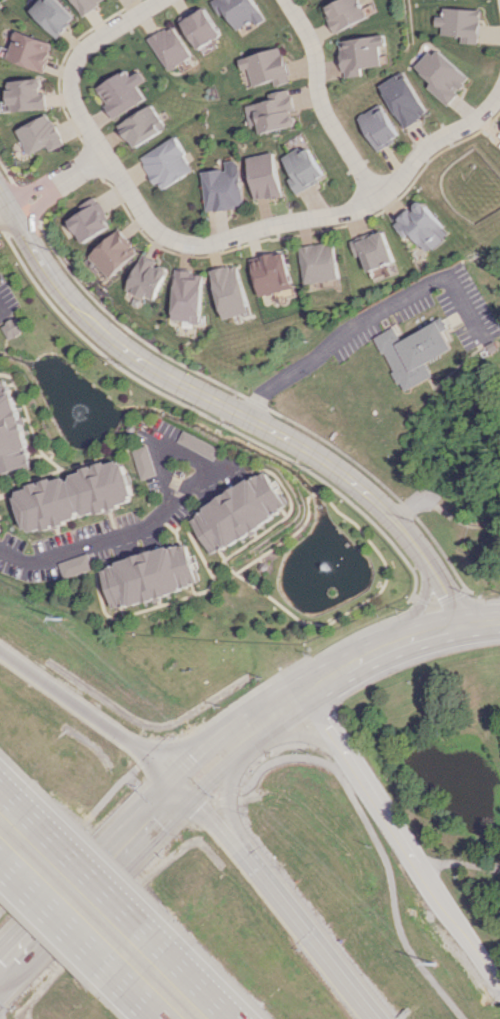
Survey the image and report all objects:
building: (88, 5)
building: (238, 11)
building: (344, 13)
building: (54, 15)
building: (459, 23)
building: (199, 27)
building: (169, 47)
building: (29, 50)
building: (360, 53)
road: (74, 59)
building: (265, 67)
building: (442, 75)
building: (121, 91)
building: (24, 94)
building: (405, 99)
road: (317, 100)
building: (271, 112)
building: (140, 126)
building: (379, 128)
building: (38, 134)
building: (165, 163)
building: (302, 168)
building: (263, 175)
road: (55, 179)
building: (222, 187)
road: (4, 208)
building: (88, 220)
road: (302, 220)
building: (421, 226)
building: (373, 250)
building: (113, 253)
building: (319, 262)
building: (272, 273)
building: (147, 278)
building: (230, 291)
building: (188, 296)
road: (363, 318)
building: (12, 327)
building: (416, 352)
road: (230, 408)
building: (11, 432)
building: (199, 445)
road: (187, 458)
building: (144, 462)
building: (75, 495)
road: (444, 510)
building: (240, 512)
road: (85, 546)
building: (75, 564)
building: (149, 576)
power tower: (68, 624)
road: (326, 677)
road: (91, 720)
road: (259, 769)
traffic signals: (181, 789)
road: (18, 808)
road: (402, 836)
road: (127, 841)
road: (1, 859)
road: (461, 862)
road: (86, 876)
road: (278, 902)
road: (53, 910)
road: (36, 929)
power tower: (441, 966)
road: (184, 972)
road: (133, 989)

